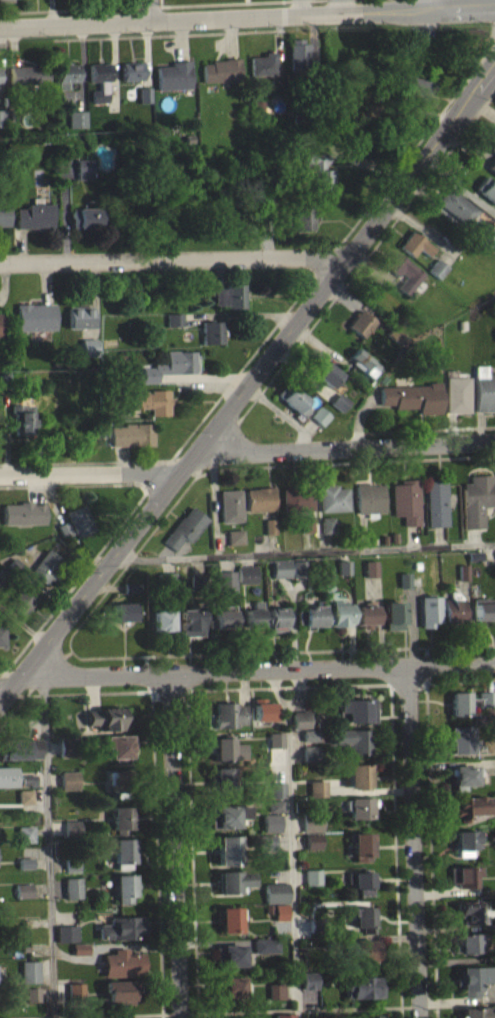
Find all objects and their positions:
building: (6, 1)
road: (167, 5)
road: (427, 5)
road: (338, 6)
road: (301, 7)
road: (152, 10)
road: (247, 16)
building: (476, 43)
building: (299, 61)
building: (263, 71)
road: (492, 73)
building: (132, 77)
building: (221, 77)
building: (100, 78)
building: (29, 81)
building: (67, 81)
building: (174, 82)
building: (0, 87)
building: (417, 93)
building: (101, 99)
road: (488, 100)
building: (144, 101)
road: (447, 101)
street lamp: (492, 101)
building: (1, 124)
building: (77, 125)
building: (492, 139)
building: (491, 148)
street lamp: (411, 155)
building: (492, 163)
building: (492, 172)
building: (84, 175)
building: (318, 177)
building: (486, 186)
building: (455, 203)
building: (3, 221)
building: (35, 222)
building: (86, 223)
building: (303, 225)
building: (484, 235)
street lamp: (346, 239)
building: (414, 241)
building: (485, 243)
building: (415, 250)
road: (171, 259)
building: (436, 265)
building: (402, 270)
building: (437, 274)
building: (228, 293)
road: (338, 293)
road: (237, 312)
building: (173, 316)
building: (360, 321)
building: (36, 323)
building: (81, 323)
building: (174, 325)
building: (210, 329)
building: (361, 329)
building: (1, 331)
building: (394, 332)
building: (89, 353)
building: (360, 355)
road: (246, 357)
building: (166, 363)
street lamp: (248, 366)
building: (364, 369)
building: (326, 372)
building: (3, 377)
road: (245, 383)
building: (483, 387)
building: (456, 391)
building: (412, 392)
building: (293, 397)
building: (150, 398)
building: (339, 399)
building: (340, 408)
building: (318, 413)
building: (20, 417)
building: (320, 422)
road: (488, 425)
street lamp: (198, 429)
road: (419, 429)
building: (130, 432)
road: (342, 448)
road: (487, 455)
road: (103, 460)
road: (86, 475)
building: (259, 497)
building: (334, 497)
building: (371, 497)
street lamp: (143, 498)
building: (297, 498)
building: (408, 499)
building: (478, 499)
building: (439, 502)
building: (231, 504)
building: (23, 511)
building: (78, 518)
road: (118, 522)
building: (306, 522)
building: (328, 523)
building: (269, 525)
building: (63, 526)
building: (185, 526)
building: (269, 533)
building: (64, 535)
building: (235, 535)
road: (302, 551)
building: (475, 555)
building: (45, 563)
building: (15, 564)
building: (280, 567)
building: (343, 567)
building: (370, 567)
building: (299, 568)
building: (462, 571)
building: (2, 573)
building: (246, 573)
building: (165, 579)
building: (404, 579)
building: (224, 580)
building: (416, 580)
building: (197, 581)
road: (112, 582)
building: (130, 586)
building: (132, 594)
building: (21, 597)
building: (484, 608)
building: (452, 609)
building: (123, 610)
building: (429, 610)
building: (338, 613)
building: (393, 613)
building: (253, 614)
building: (365, 614)
building: (310, 615)
building: (222, 616)
building: (276, 617)
building: (161, 620)
building: (190, 620)
building: (2, 633)
road: (451, 645)
road: (260, 670)
road: (3, 671)
road: (46, 671)
road: (451, 681)
road: (8, 685)
road: (297, 685)
road: (296, 689)
road: (276, 690)
building: (470, 700)
building: (355, 708)
building: (262, 709)
road: (13, 712)
building: (228, 715)
building: (300, 718)
building: (103, 724)
building: (309, 734)
building: (351, 738)
building: (274, 739)
building: (462, 739)
building: (309, 741)
building: (118, 745)
building: (20, 746)
building: (69, 746)
building: (227, 748)
building: (308, 753)
building: (8, 774)
building: (358, 774)
building: (465, 775)
building: (29, 777)
building: (222, 778)
building: (69, 779)
building: (120, 781)
building: (317, 788)
building: (276, 790)
building: (25, 794)
road: (155, 796)
building: (25, 802)
building: (274, 806)
building: (360, 806)
building: (474, 806)
building: (274, 812)
building: (227, 815)
building: (120, 817)
building: (271, 822)
building: (312, 822)
building: (24, 832)
building: (72, 833)
road: (191, 835)
building: (25, 840)
building: (313, 841)
building: (466, 841)
building: (266, 842)
road: (413, 842)
road: (49, 845)
road: (174, 845)
building: (361, 845)
building: (227, 849)
building: (120, 850)
road: (396, 850)
road: (431, 850)
building: (25, 860)
road: (292, 862)
building: (71, 864)
building: (25, 869)
building: (71, 871)
building: (464, 876)
building: (312, 877)
building: (232, 880)
building: (361, 881)
building: (122, 885)
building: (72, 886)
building: (23, 889)
building: (275, 892)
building: (23, 897)
building: (280, 911)
building: (475, 911)
building: (363, 917)
building: (229, 918)
building: (316, 925)
building: (121, 926)
building: (66, 931)
building: (334, 941)
building: (470, 942)
building: (264, 945)
building: (79, 947)
building: (365, 950)
building: (79, 955)
building: (229, 955)
building: (121, 962)
building: (28, 969)
building: (474, 978)
building: (307, 980)
building: (362, 986)
building: (229, 987)
building: (119, 990)
building: (76, 991)
building: (275, 991)
building: (31, 992)
building: (32, 1000)
building: (309, 1007)
road: (299, 1008)
building: (474, 1012)
road: (81, 1015)
building: (283, 1015)
building: (245, 1017)
building: (369, 1017)

